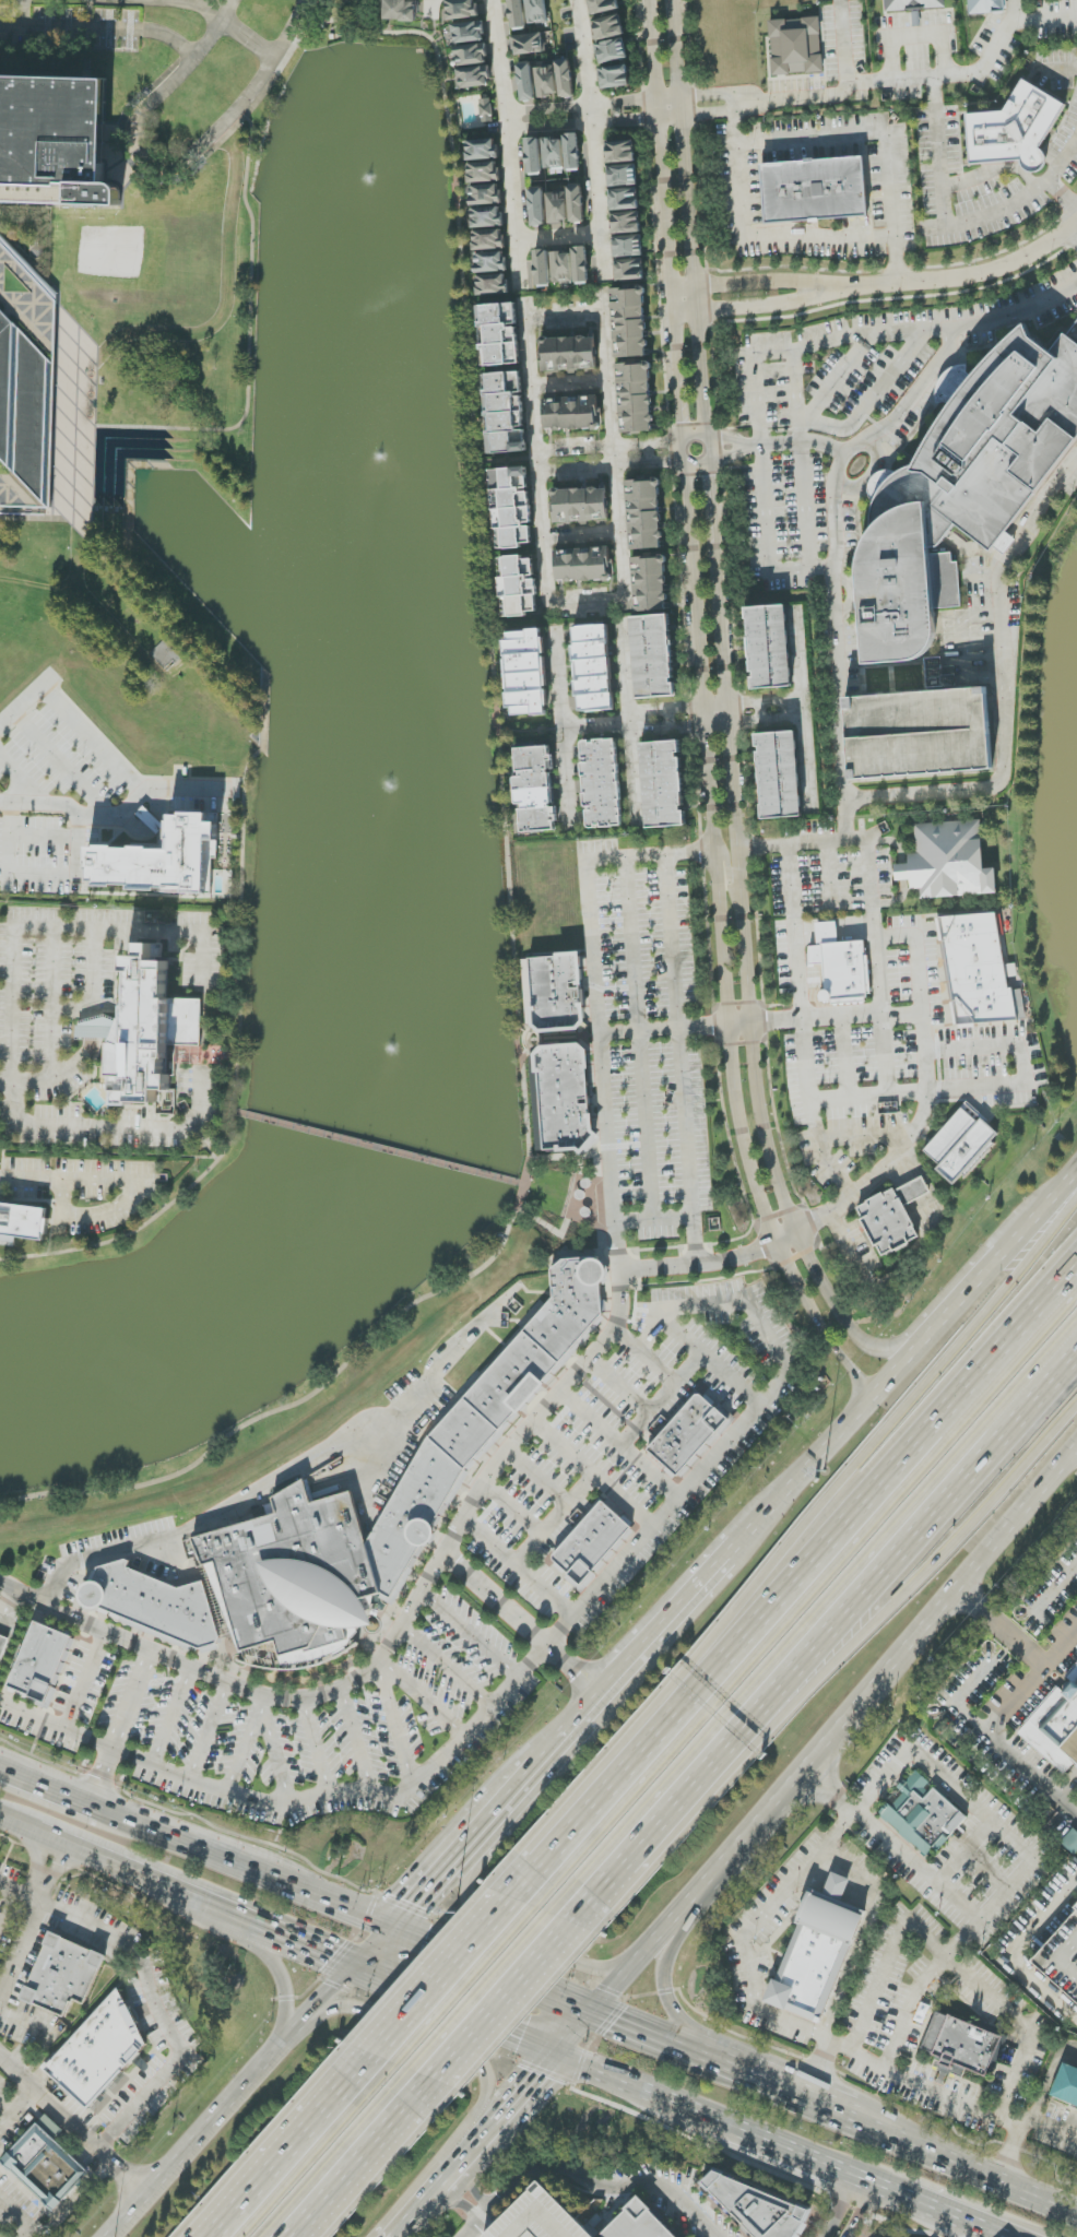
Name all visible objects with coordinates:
road: (174, 3)
building: (913, 4)
building: (603, 5)
building: (985, 5)
road: (215, 9)
building: (461, 9)
building: (401, 10)
building: (536, 11)
road: (1046, 13)
building: (518, 14)
building: (608, 27)
road: (914, 32)
road: (252, 36)
building: (529, 44)
building: (796, 46)
building: (612, 51)
building: (472, 55)
road: (583, 56)
road: (272, 66)
road: (1062, 68)
building: (474, 76)
building: (614, 76)
road: (951, 76)
building: (566, 79)
building: (546, 80)
building: (526, 81)
road: (826, 91)
road: (705, 94)
road: (509, 100)
road: (667, 105)
road: (623, 109)
building: (485, 110)
road: (707, 111)
road: (137, 118)
building: (1015, 129)
building: (54, 141)
building: (482, 150)
building: (572, 152)
building: (620, 152)
building: (553, 153)
building: (534, 155)
building: (483, 171)
building: (623, 176)
fountain: (381, 184)
building: (815, 190)
road: (597, 192)
building: (485, 194)
road: (1061, 198)
building: (624, 199)
road: (517, 200)
building: (576, 204)
building: (537, 206)
building: (557, 208)
building: (487, 216)
road: (687, 221)
road: (663, 222)
building: (626, 223)
road: (952, 225)
road: (1074, 234)
road: (560, 237)
road: (878, 237)
building: (488, 239)
building: (628, 246)
road: (896, 261)
building: (490, 262)
building: (581, 265)
building: (561, 267)
building: (542, 268)
building: (629, 270)
road: (966, 277)
building: (493, 284)
road: (755, 285)
road: (757, 308)
road: (528, 319)
building: (629, 322)
building: (500, 333)
building: (1074, 334)
building: (568, 353)
road: (836, 380)
road: (923, 387)
road: (797, 388)
road: (756, 393)
building: (17, 394)
building: (636, 396)
building: (506, 413)
building: (571, 413)
road: (801, 435)
road: (685, 446)
road: (747, 446)
road: (614, 454)
fountain: (387, 460)
building: (962, 488)
building: (513, 505)
building: (580, 505)
building: (644, 514)
road: (484, 563)
building: (583, 565)
road: (166, 569)
building: (650, 583)
building: (519, 587)
road: (587, 600)
road: (835, 643)
building: (770, 647)
building: (653, 656)
building: (593, 667)
building: (526, 673)
road: (1002, 688)
road: (714, 707)
road: (560, 714)
road: (628, 721)
road: (629, 722)
road: (715, 726)
building: (919, 733)
parking lot: (919, 733)
road: (118, 762)
road: (565, 774)
building: (779, 776)
road: (23, 778)
fountain: (386, 782)
building: (602, 783)
building: (663, 784)
building: (535, 790)
road: (16, 809)
road: (736, 850)
building: (163, 859)
road: (869, 860)
building: (948, 863)
road: (731, 864)
road: (587, 883)
road: (54, 925)
road: (795, 932)
road: (630, 945)
road: (723, 945)
building: (841, 967)
building: (980, 970)
road: (94, 973)
building: (557, 993)
road: (54, 1002)
road: (884, 1028)
road: (93, 1030)
building: (152, 1031)
road: (843, 1031)
road: (624, 1032)
road: (804, 1034)
fountain: (389, 1045)
road: (680, 1057)
road: (1025, 1068)
road: (829, 1076)
building: (565, 1097)
road: (69, 1125)
road: (646, 1125)
road: (832, 1134)
building: (961, 1144)
road: (380, 1147)
road: (889, 1160)
road: (23, 1177)
road: (128, 1200)
road: (1043, 1210)
building: (892, 1216)
road: (653, 1218)
building: (22, 1223)
road: (146, 1223)
road: (909, 1252)
road: (969, 1293)
road: (848, 1319)
road: (647, 1333)
road: (924, 1344)
road: (646, 1356)
road: (734, 1377)
road: (618, 1387)
road: (303, 1402)
road: (658, 1404)
building: (690, 1433)
road: (566, 1445)
road: (864, 1453)
road: (825, 1454)
building: (450, 1455)
road: (703, 1466)
road: (651, 1468)
road: (538, 1477)
road: (580, 1489)
road: (238, 1498)
road: (877, 1499)
road: (512, 1507)
building: (591, 1544)
road: (906, 1558)
road: (442, 1565)
road: (698, 1571)
road: (1055, 1587)
road: (912, 1588)
road: (497, 1602)
road: (937, 1605)
building: (156, 1606)
road: (561, 1631)
road: (662, 1631)
road: (1019, 1636)
building: (3, 1646)
road: (535, 1661)
road: (571, 1664)
building: (42, 1665)
road: (449, 1666)
road: (569, 1677)
road: (85, 1680)
road: (421, 1696)
road: (397, 1720)
road: (57, 1726)
building: (1056, 1727)
road: (123, 1730)
parking lot: (336, 1730)
road: (210, 1733)
road: (567, 1733)
road: (999, 1740)
road: (357, 1742)
road: (244, 1745)
road: (315, 1749)
road: (276, 1753)
road: (133, 1757)
road: (47, 1787)
road: (370, 1794)
road: (510, 1797)
road: (605, 1803)
road: (973, 1803)
building: (923, 1814)
road: (19, 1826)
road: (664, 1836)
road: (748, 1836)
road: (466, 1844)
road: (193, 1845)
road: (120, 1869)
road: (852, 1870)
road: (49, 1873)
road: (4, 1883)
road: (13, 1887)
road: (421, 1891)
traffic signals: (411, 1902)
road: (341, 1904)
road: (235, 1916)
road: (671, 1927)
road: (747, 1931)
road: (525, 1936)
traffic signals: (426, 1942)
road: (309, 1944)
road: (370, 1944)
road: (950, 1949)
road: (1015, 1950)
road: (19, 1954)
traffic signals: (331, 1954)
building: (818, 1954)
building: (1062, 1958)
road: (888, 1962)
road: (458, 1967)
road: (493, 1972)
road: (849, 1973)
building: (63, 1975)
road: (625, 1984)
road: (666, 1987)
road: (284, 1989)
road: (327, 1993)
road: (520, 1996)
road: (458, 2009)
road: (159, 2013)
traffic signals: (615, 2024)
road: (1018, 2025)
road: (581, 2037)
traffic signals: (523, 2038)
road: (655, 2040)
building: (962, 2045)
road: (441, 2046)
building: (99, 2051)
traffic signals: (544, 2078)
road: (618, 2080)
road: (538, 2083)
building: (1067, 2086)
road: (783, 2093)
road: (951, 2097)
road: (56, 2107)
road: (19, 2108)
road: (1045, 2124)
road: (205, 2131)
road: (488, 2139)
road: (762, 2141)
road: (294, 2145)
road: (1007, 2153)
road: (376, 2155)
building: (46, 2164)
road: (966, 2167)
road: (131, 2177)
road: (453, 2178)
road: (627, 2186)
road: (877, 2188)
road: (474, 2193)
road: (72, 2202)
road: (500, 2204)
road: (462, 2208)
building: (758, 2208)
road: (840, 2208)
road: (861, 2212)
road: (421, 2213)
road: (943, 2214)
road: (19, 2217)
building: (540, 2218)
parking garage: (540, 2218)
building: (631, 2223)
road: (990, 2234)

